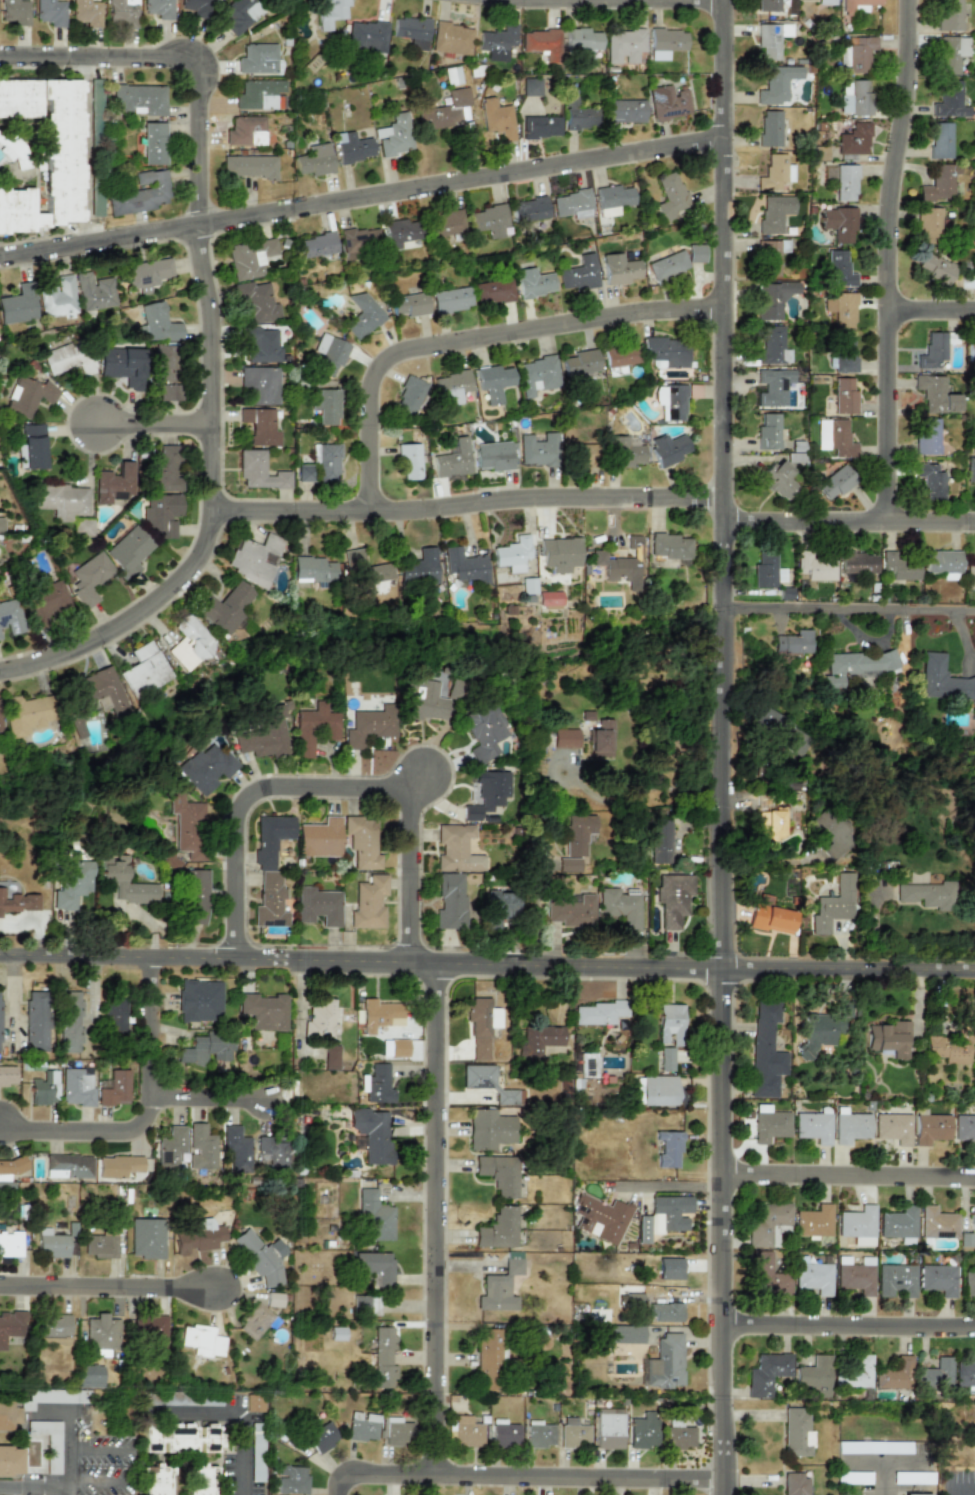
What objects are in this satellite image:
road: (507, 0)
building: (826, 2)
building: (768, 5)
building: (858, 5)
building: (197, 7)
building: (159, 8)
building: (14, 12)
building: (51, 12)
building: (87, 12)
building: (331, 12)
building: (122, 13)
building: (240, 15)
building: (949, 15)
building: (412, 31)
building: (367, 36)
building: (452, 38)
building: (582, 39)
building: (668, 39)
building: (768, 41)
building: (497, 42)
building: (541, 43)
building: (624, 46)
building: (857, 54)
building: (951, 54)
building: (257, 59)
building: (452, 75)
building: (777, 84)
building: (531, 87)
building: (260, 95)
building: (854, 97)
building: (139, 99)
building: (949, 100)
building: (668, 103)
building: (445, 111)
building: (625, 111)
building: (580, 118)
building: (497, 119)
building: (541, 127)
building: (770, 128)
building: (246, 131)
building: (394, 136)
building: (854, 140)
building: (940, 140)
building: (153, 143)
building: (352, 147)
building: (38, 154)
building: (315, 160)
building: (249, 166)
building: (775, 172)
building: (845, 183)
building: (939, 185)
building: (140, 194)
road: (361, 195)
building: (670, 196)
building: (612, 199)
building: (572, 204)
building: (529, 210)
building: (774, 213)
building: (488, 221)
building: (839, 223)
building: (444, 224)
building: (929, 224)
building: (399, 232)
building: (357, 241)
building: (316, 245)
building: (695, 253)
building: (770, 257)
building: (250, 258)
road: (886, 259)
building: (667, 265)
building: (839, 268)
building: (619, 269)
building: (934, 269)
building: (147, 272)
building: (579, 274)
building: (533, 283)
building: (493, 291)
building: (94, 292)
building: (57, 298)
building: (773, 299)
building: (451, 300)
building: (257, 302)
building: (18, 305)
building: (409, 305)
building: (841, 309)
road: (930, 309)
building: (362, 316)
road: (210, 323)
building: (157, 324)
road: (474, 337)
building: (260, 345)
building: (772, 347)
building: (971, 350)
building: (932, 351)
building: (329, 352)
building: (668, 352)
building: (844, 353)
building: (621, 356)
building: (68, 358)
building: (163, 362)
building: (580, 364)
building: (123, 366)
building: (537, 375)
building: (493, 382)
building: (259, 384)
building: (451, 387)
building: (773, 387)
building: (167, 392)
building: (935, 395)
building: (28, 396)
building: (844, 396)
building: (411, 397)
building: (670, 402)
building: (324, 406)
road: (155, 421)
building: (259, 426)
building: (768, 432)
building: (926, 436)
building: (835, 438)
building: (33, 447)
building: (667, 449)
building: (538, 450)
building: (624, 453)
building: (582, 454)
building: (493, 456)
building: (452, 459)
building: (325, 461)
building: (409, 461)
building: (164, 469)
building: (259, 471)
building: (303, 473)
building: (779, 480)
building: (930, 481)
building: (835, 482)
building: (114, 484)
building: (61, 500)
road: (466, 502)
building: (162, 514)
road: (848, 520)
building: (1, 524)
building: (85, 529)
building: (669, 546)
building: (129, 550)
building: (512, 554)
building: (560, 554)
building: (253, 559)
building: (857, 563)
building: (944, 563)
building: (620, 565)
building: (465, 566)
building: (899, 566)
building: (419, 568)
building: (764, 570)
building: (313, 571)
building: (365, 573)
building: (970, 576)
building: (89, 578)
building: (529, 586)
building: (550, 599)
building: (48, 602)
building: (224, 607)
road: (848, 611)
building: (11, 616)
building: (0, 639)
building: (189, 643)
building: (793, 643)
building: (854, 667)
building: (144, 670)
building: (942, 680)
building: (102, 692)
building: (423, 702)
building: (25, 714)
building: (369, 726)
building: (314, 728)
building: (778, 730)
building: (482, 731)
building: (265, 735)
building: (565, 738)
building: (600, 739)
road: (720, 747)
building: (206, 767)
road: (657, 785)
road: (246, 793)
building: (487, 793)
building: (769, 821)
building: (187, 826)
building: (578, 834)
building: (833, 835)
building: (320, 838)
building: (362, 841)
building: (660, 841)
building: (456, 849)
road: (770, 861)
building: (569, 865)
building: (270, 871)
road: (409, 871)
building: (124, 881)
building: (72, 884)
building: (927, 895)
building: (196, 896)
building: (673, 898)
building: (450, 901)
building: (18, 902)
building: (369, 903)
building: (833, 905)
building: (318, 906)
building: (499, 907)
building: (620, 908)
building: (572, 912)
building: (770, 916)
road: (487, 959)
building: (200, 1001)
building: (264, 1011)
building: (599, 1013)
building: (380, 1015)
building: (115, 1018)
building: (36, 1021)
building: (320, 1021)
building: (70, 1022)
building: (670, 1024)
building: (481, 1025)
building: (974, 1026)
building: (818, 1034)
building: (889, 1038)
building: (0, 1039)
building: (539, 1040)
building: (206, 1048)
building: (394, 1048)
building: (949, 1048)
building: (766, 1052)
building: (331, 1057)
building: (666, 1059)
building: (587, 1065)
building: (7, 1076)
building: (377, 1084)
building: (77, 1086)
building: (45, 1088)
building: (115, 1089)
building: (658, 1091)
road: (209, 1094)
road: (151, 1117)
building: (770, 1124)
building: (850, 1126)
building: (814, 1127)
building: (964, 1127)
building: (893, 1128)
building: (931, 1128)
building: (489, 1129)
building: (372, 1135)
building: (171, 1146)
building: (974, 1147)
building: (201, 1148)
building: (668, 1148)
building: (236, 1149)
building: (273, 1154)
building: (68, 1166)
building: (118, 1166)
road: (848, 1171)
building: (499, 1173)
building: (4, 1177)
road: (669, 1187)
road: (433, 1215)
building: (971, 1215)
building: (664, 1216)
building: (375, 1217)
building: (601, 1218)
building: (765, 1221)
building: (813, 1221)
building: (897, 1223)
building: (936, 1223)
building: (857, 1225)
building: (499, 1229)
building: (776, 1233)
building: (199, 1237)
building: (147, 1238)
building: (51, 1244)
building: (100, 1246)
building: (262, 1257)
building: (375, 1266)
building: (670, 1268)
building: (765, 1276)
building: (813, 1277)
building: (854, 1277)
building: (937, 1279)
building: (895, 1280)
building: (968, 1283)
road: (109, 1285)
building: (500, 1288)
building: (634, 1298)
building: (366, 1305)
building: (666, 1312)
building: (255, 1321)
building: (54, 1325)
road: (848, 1325)
building: (10, 1326)
building: (150, 1330)
building: (102, 1332)
building: (337, 1334)
building: (624, 1334)
building: (202, 1341)
building: (384, 1359)
building: (488, 1359)
building: (666, 1363)
building: (766, 1373)
building: (965, 1373)
building: (936, 1374)
building: (894, 1375)
building: (90, 1376)
building: (815, 1376)
building: (54, 1397)
building: (254, 1403)
park: (113, 1411)
road: (235, 1414)
building: (8, 1415)
building: (362, 1427)
building: (609, 1429)
building: (465, 1431)
building: (643, 1431)
building: (395, 1432)
building: (796, 1432)
road: (70, 1434)
building: (539, 1434)
building: (573, 1434)
building: (505, 1435)
building: (679, 1435)
building: (321, 1437)
building: (180, 1438)
building: (49, 1442)
road: (98, 1448)
road: (883, 1460)
building: (10, 1461)
parking lot: (114, 1464)
road: (526, 1473)
road: (884, 1478)
road: (97, 1479)
building: (200, 1479)
building: (155, 1480)
building: (292, 1480)
road: (334, 1482)
building: (796, 1484)
road: (39, 1486)
road: (962, 1489)
road: (949, 1492)
building: (916, 1494)

